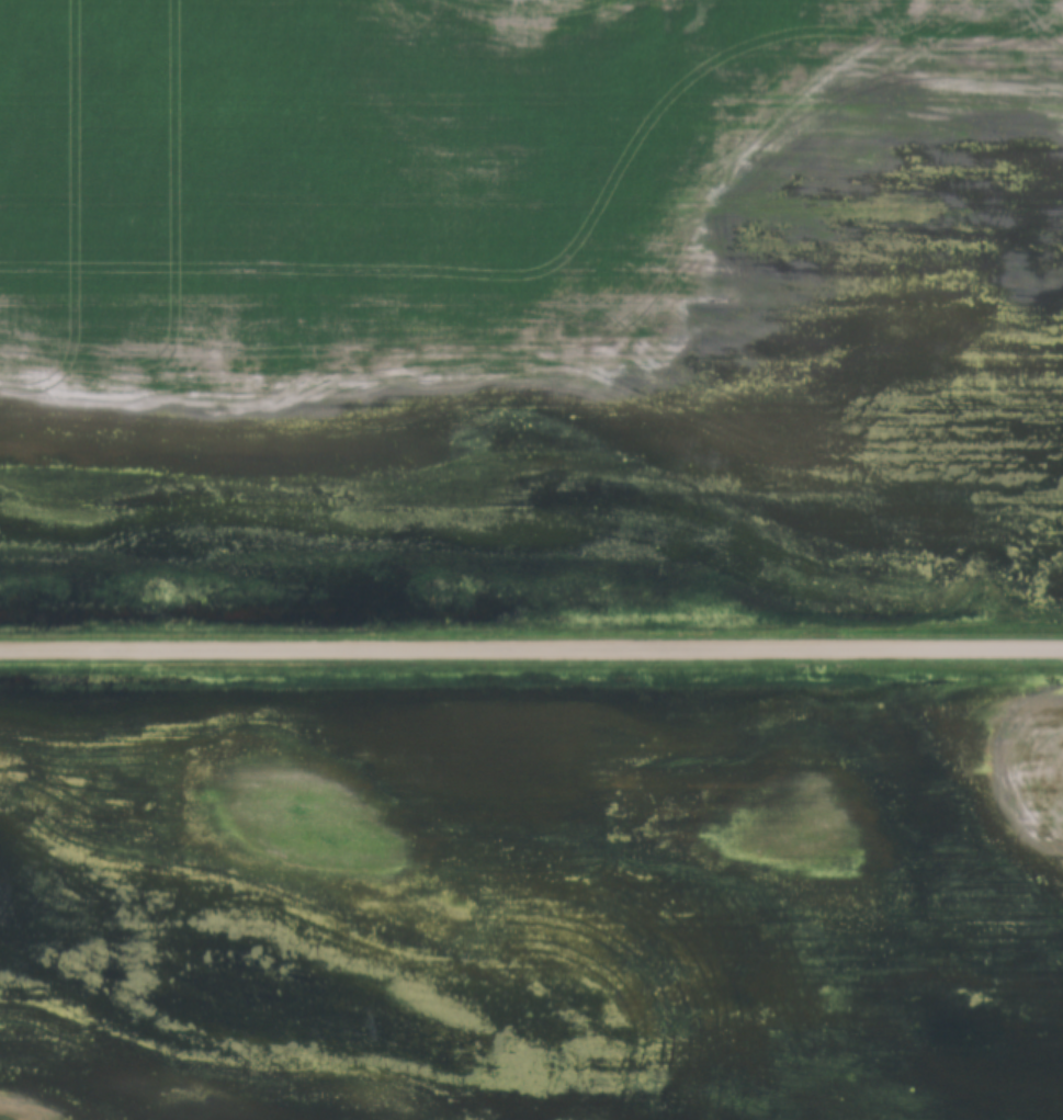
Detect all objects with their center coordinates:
road: (531, 653)

